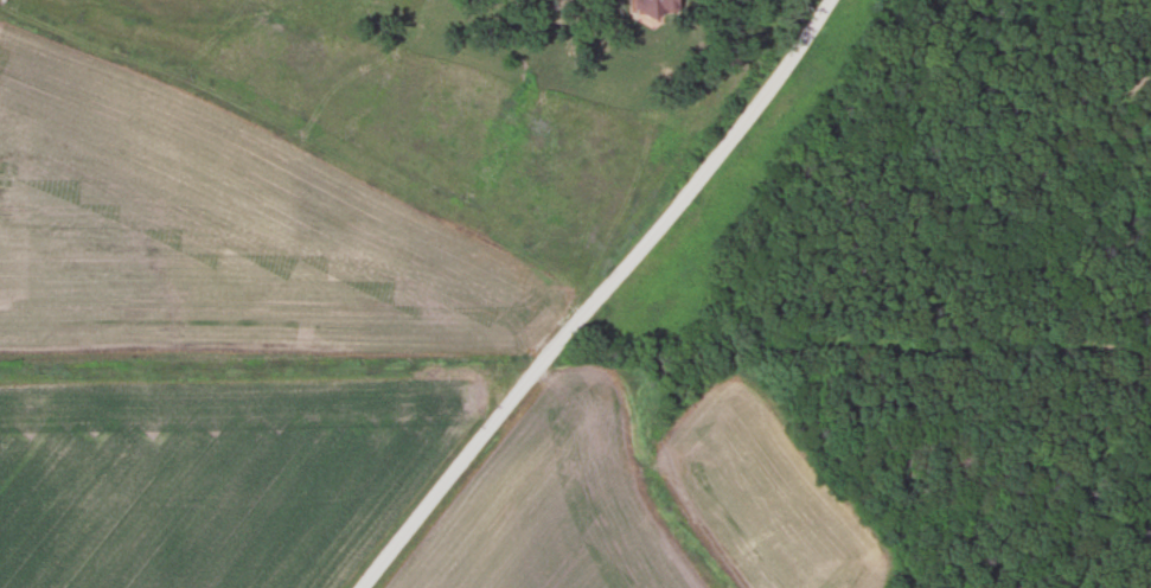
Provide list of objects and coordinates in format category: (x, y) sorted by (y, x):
building: (653, 7)
road: (599, 296)

